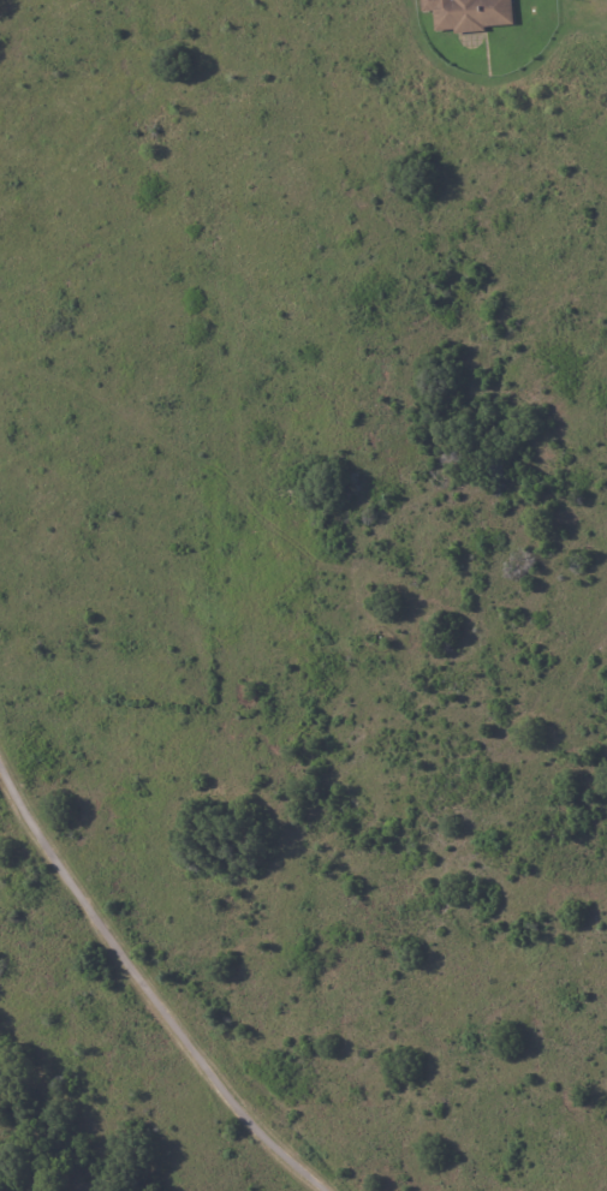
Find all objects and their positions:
building: (470, 14)

